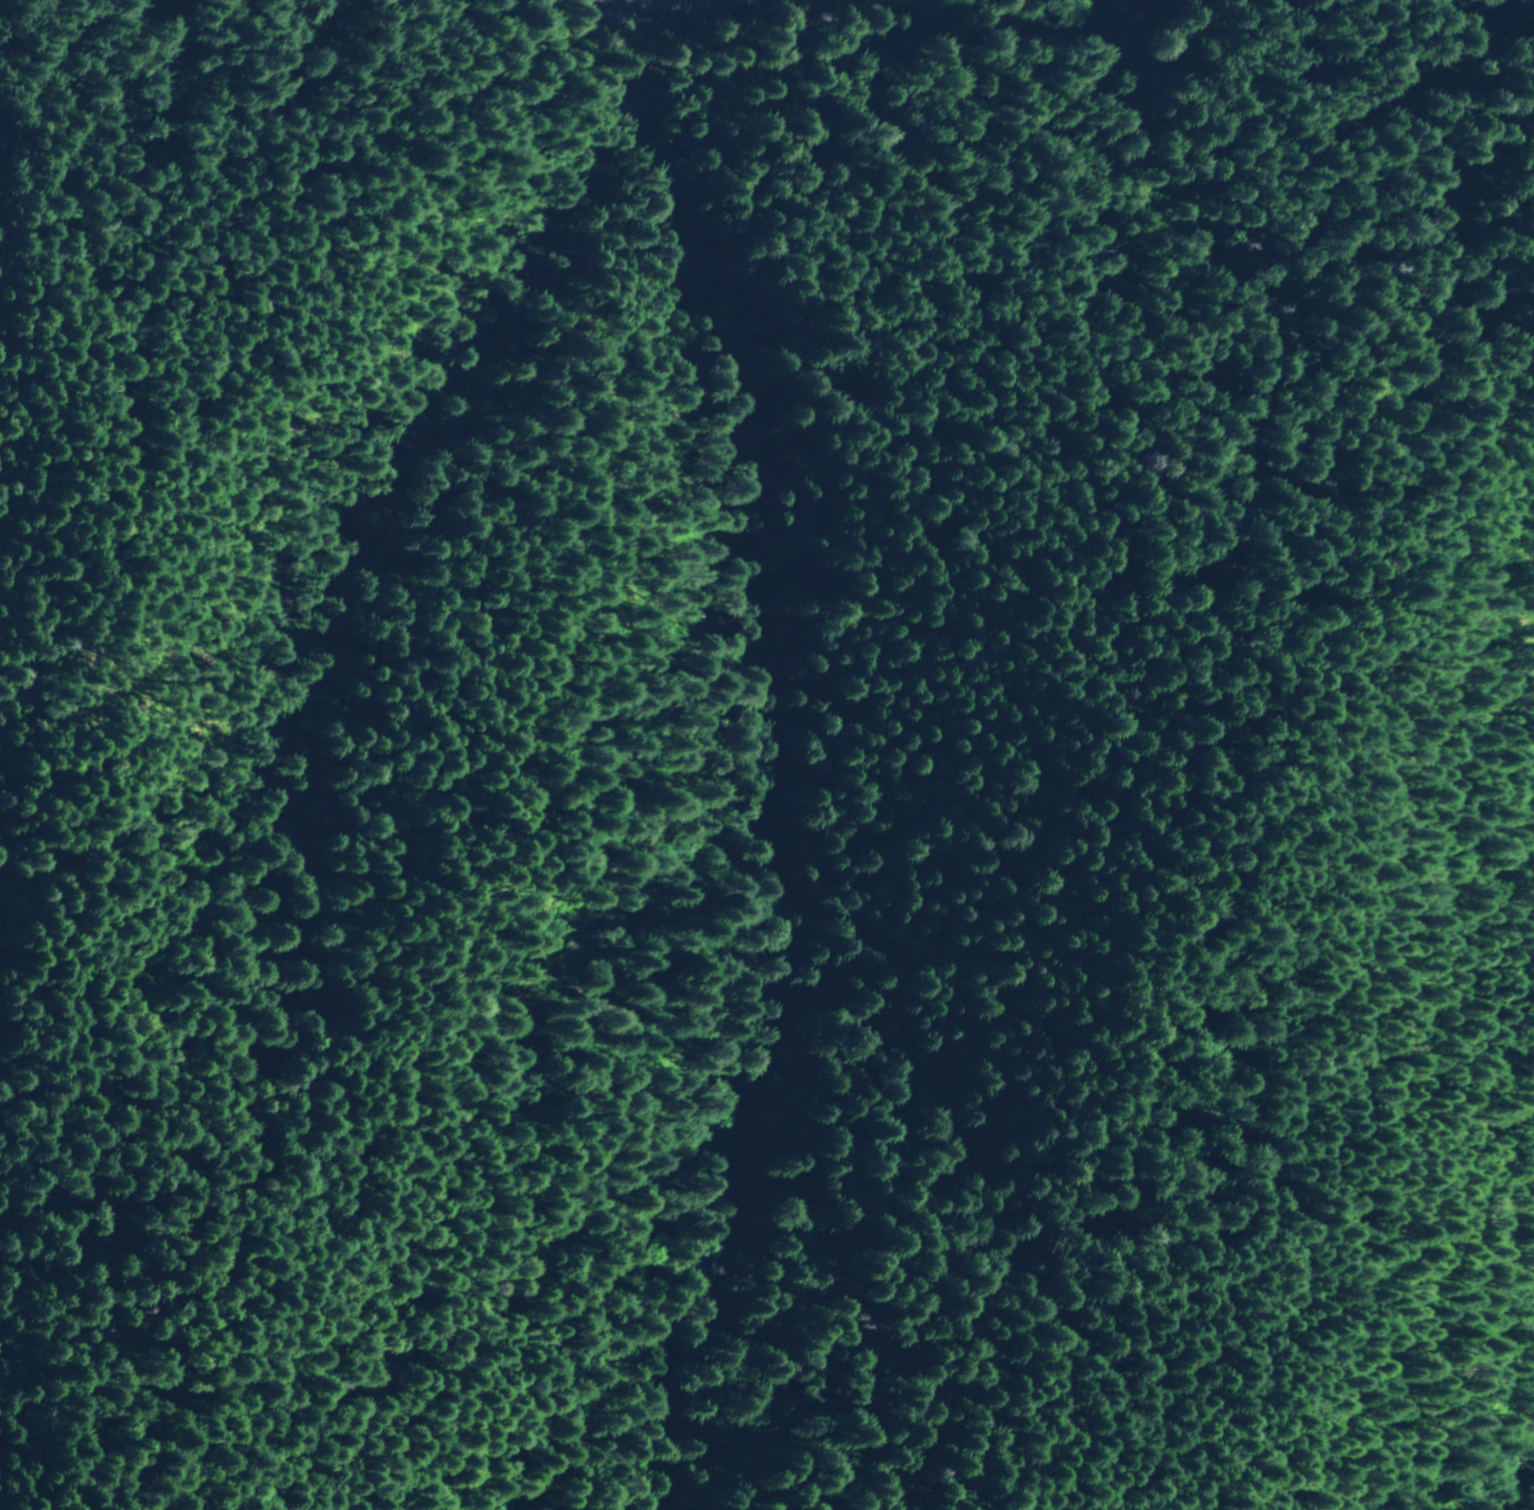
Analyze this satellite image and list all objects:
river: (674, 1)
road: (883, 102)
road: (4, 974)

